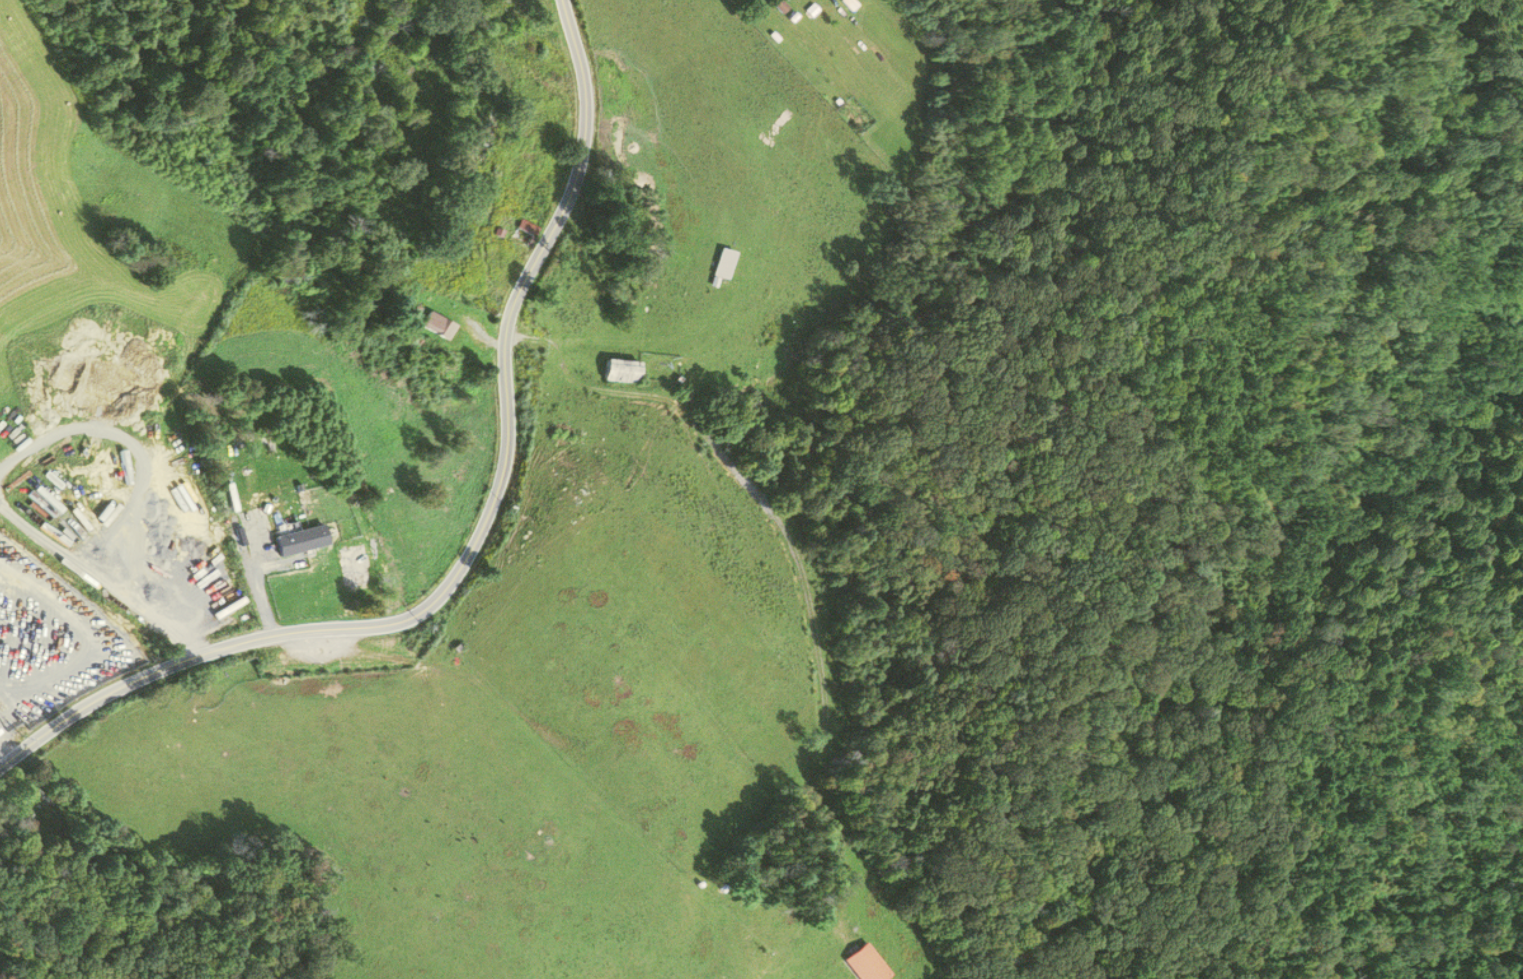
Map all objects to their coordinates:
building: (847, 4)
building: (526, 228)
building: (724, 263)
building: (437, 325)
building: (623, 371)
road: (480, 531)
building: (298, 575)
building: (867, 964)

